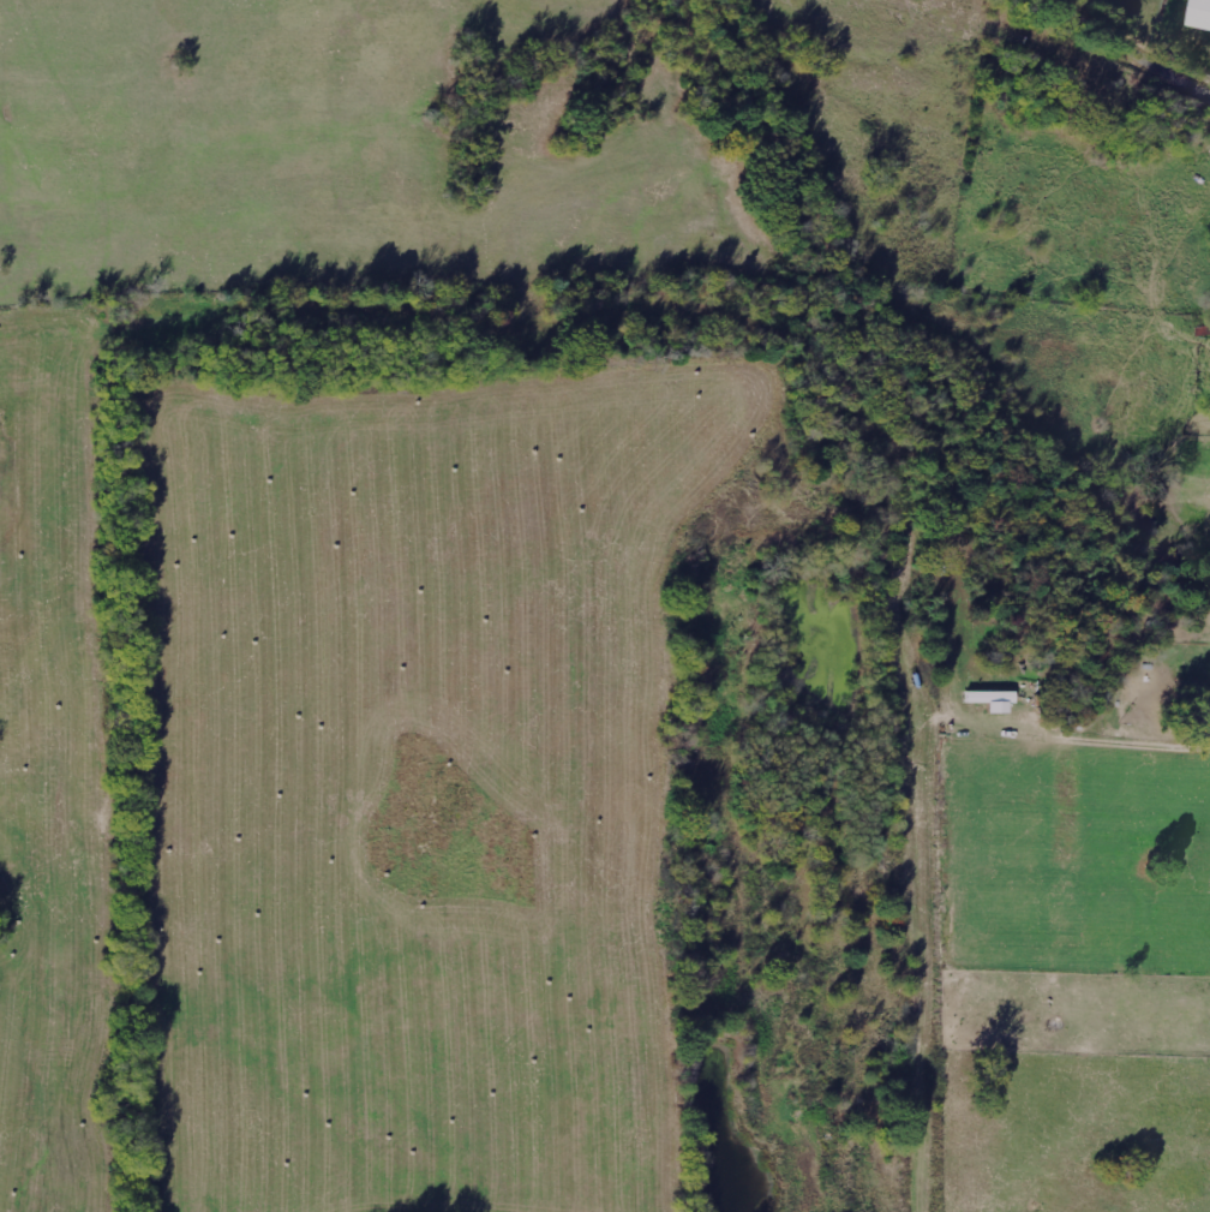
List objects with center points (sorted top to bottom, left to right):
building: (1204, 16)
road: (1130, 48)
building: (993, 700)

